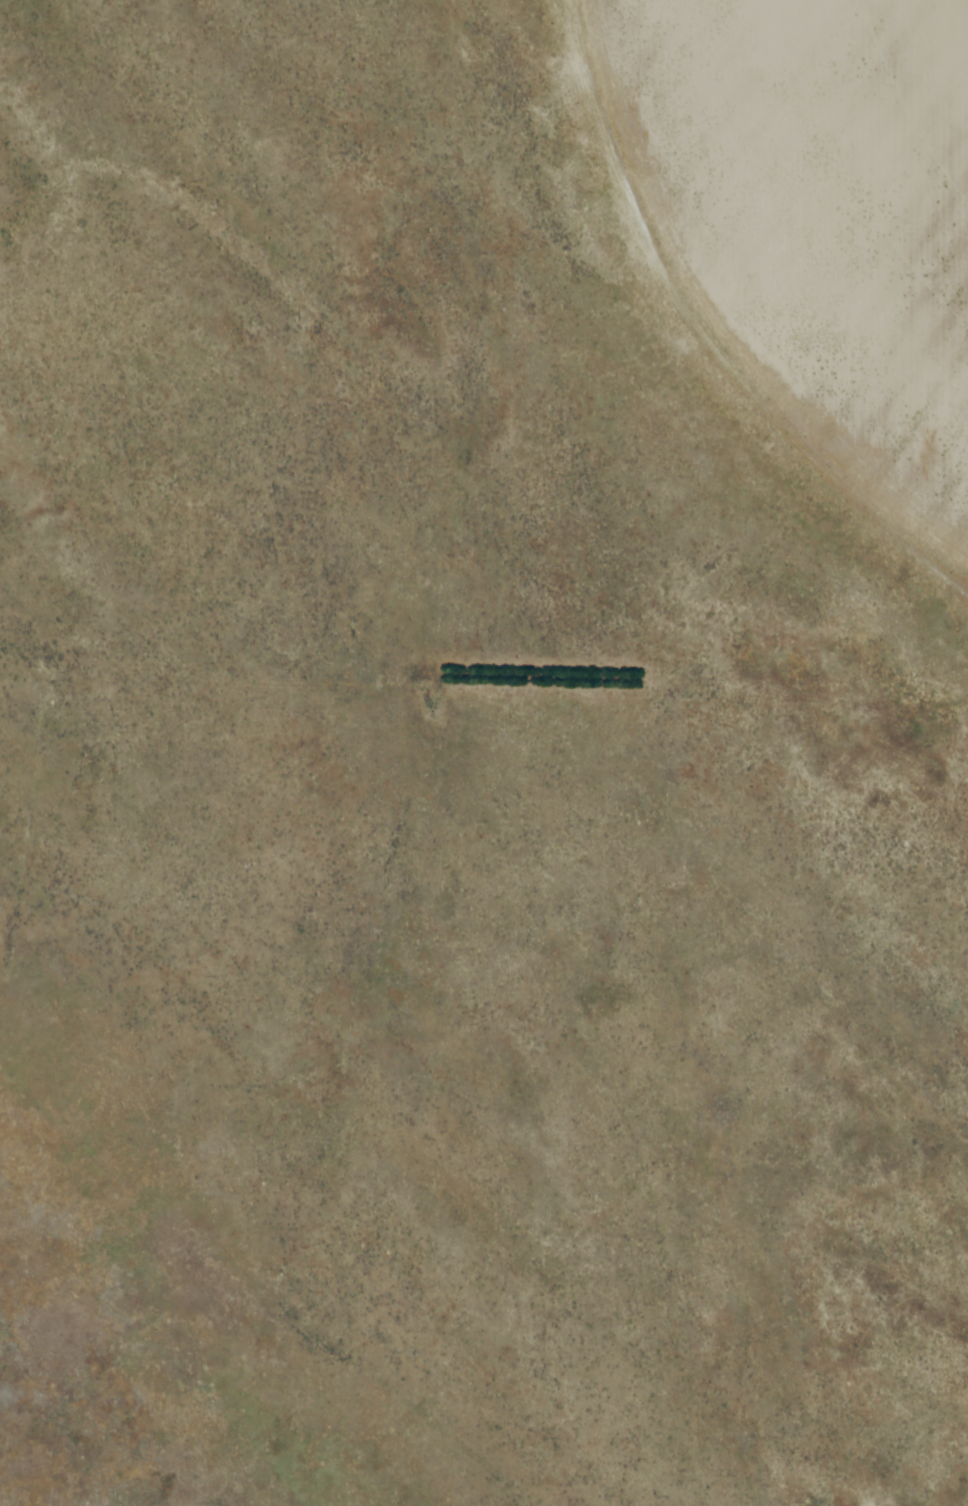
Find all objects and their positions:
crop: (818, 212)

